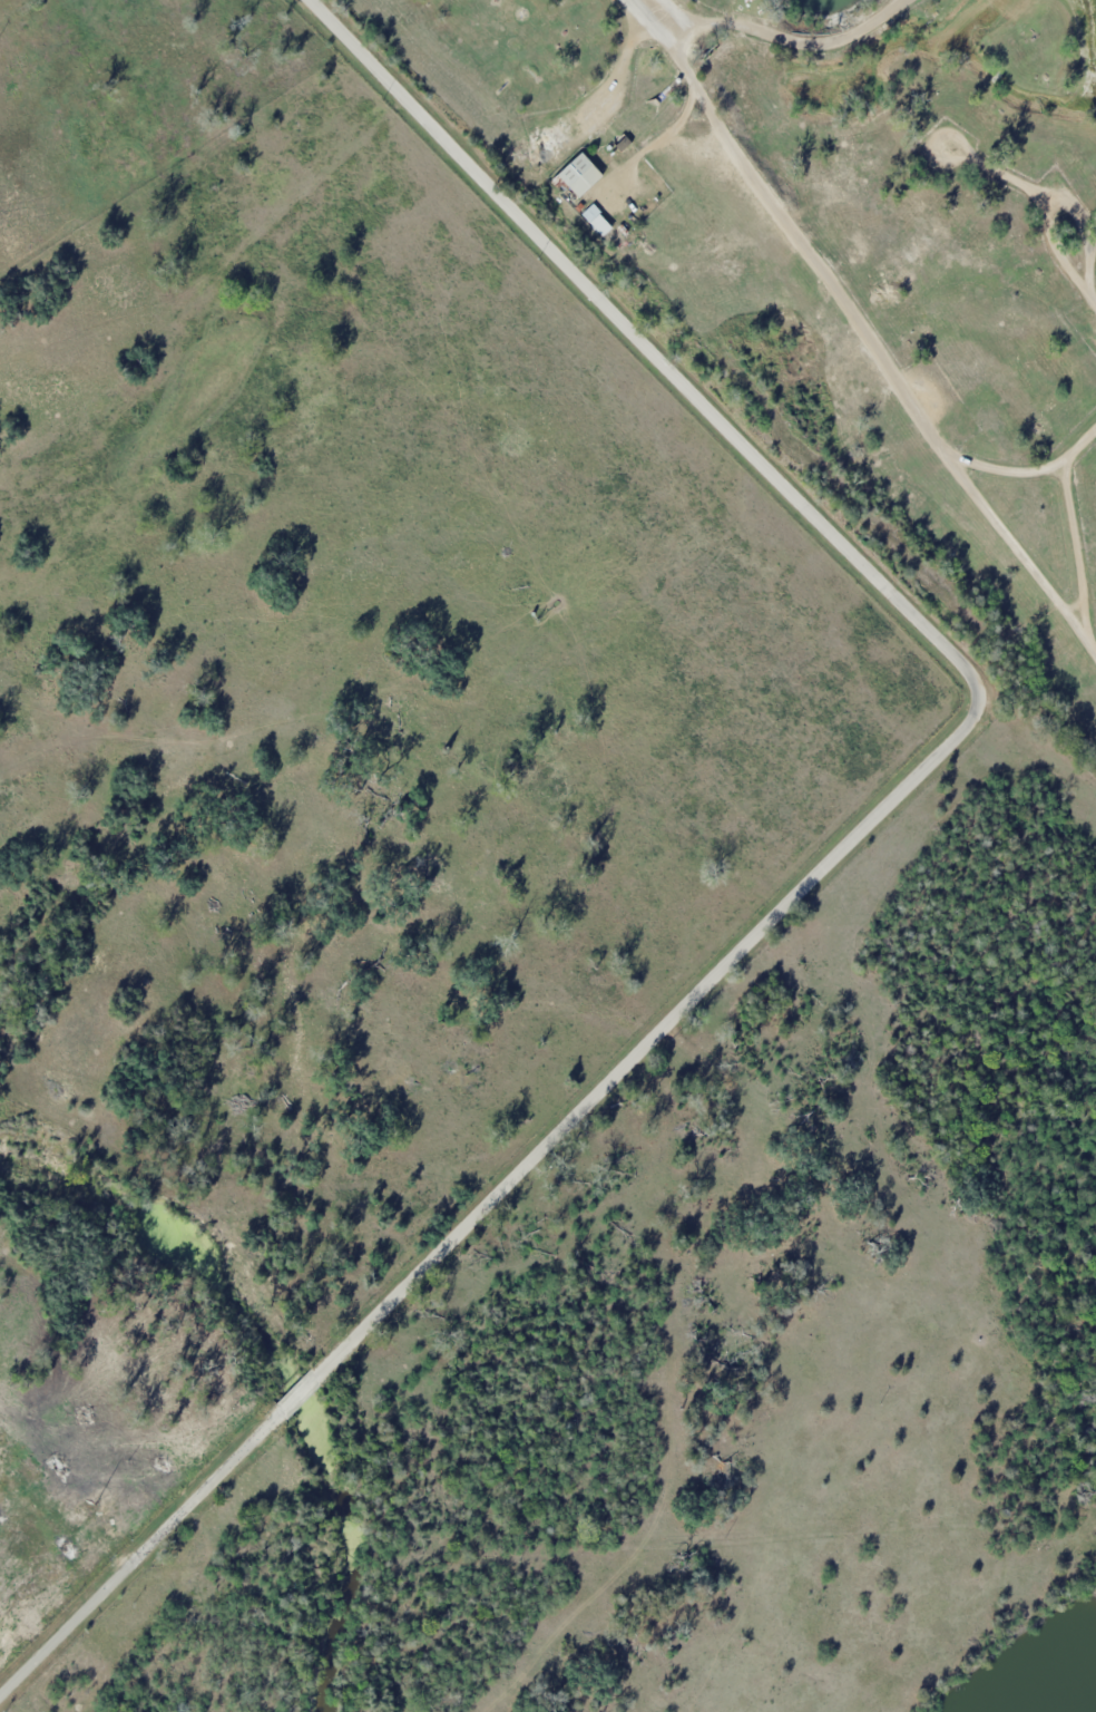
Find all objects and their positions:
road: (625, 49)
building: (576, 174)
building: (595, 222)
road: (864, 332)
road: (978, 679)
road: (302, 1389)
road: (134, 1557)

